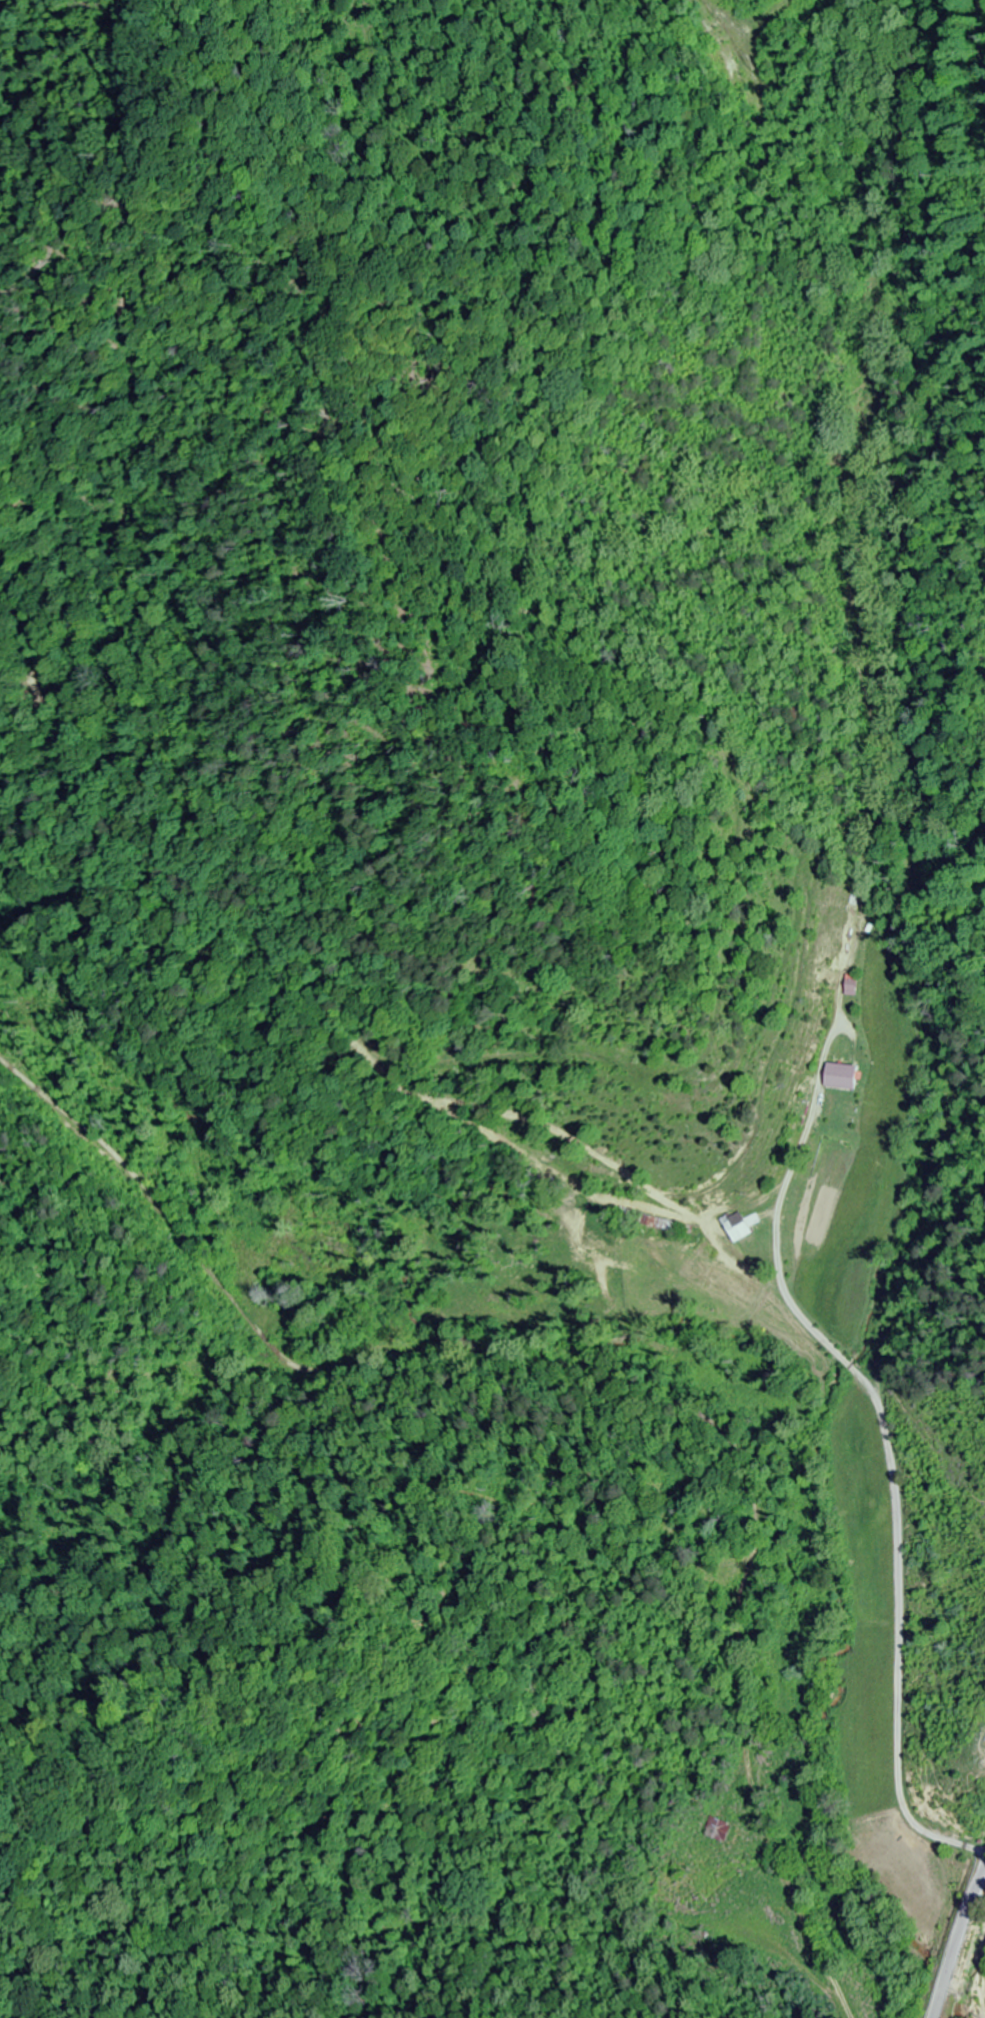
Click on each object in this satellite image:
building: (39, 690)
road: (936, 979)
building: (622, 1058)
building: (837, 1077)
building: (677, 1228)
building: (735, 1229)
building: (714, 1829)
road: (954, 1943)
road: (842, 1992)

